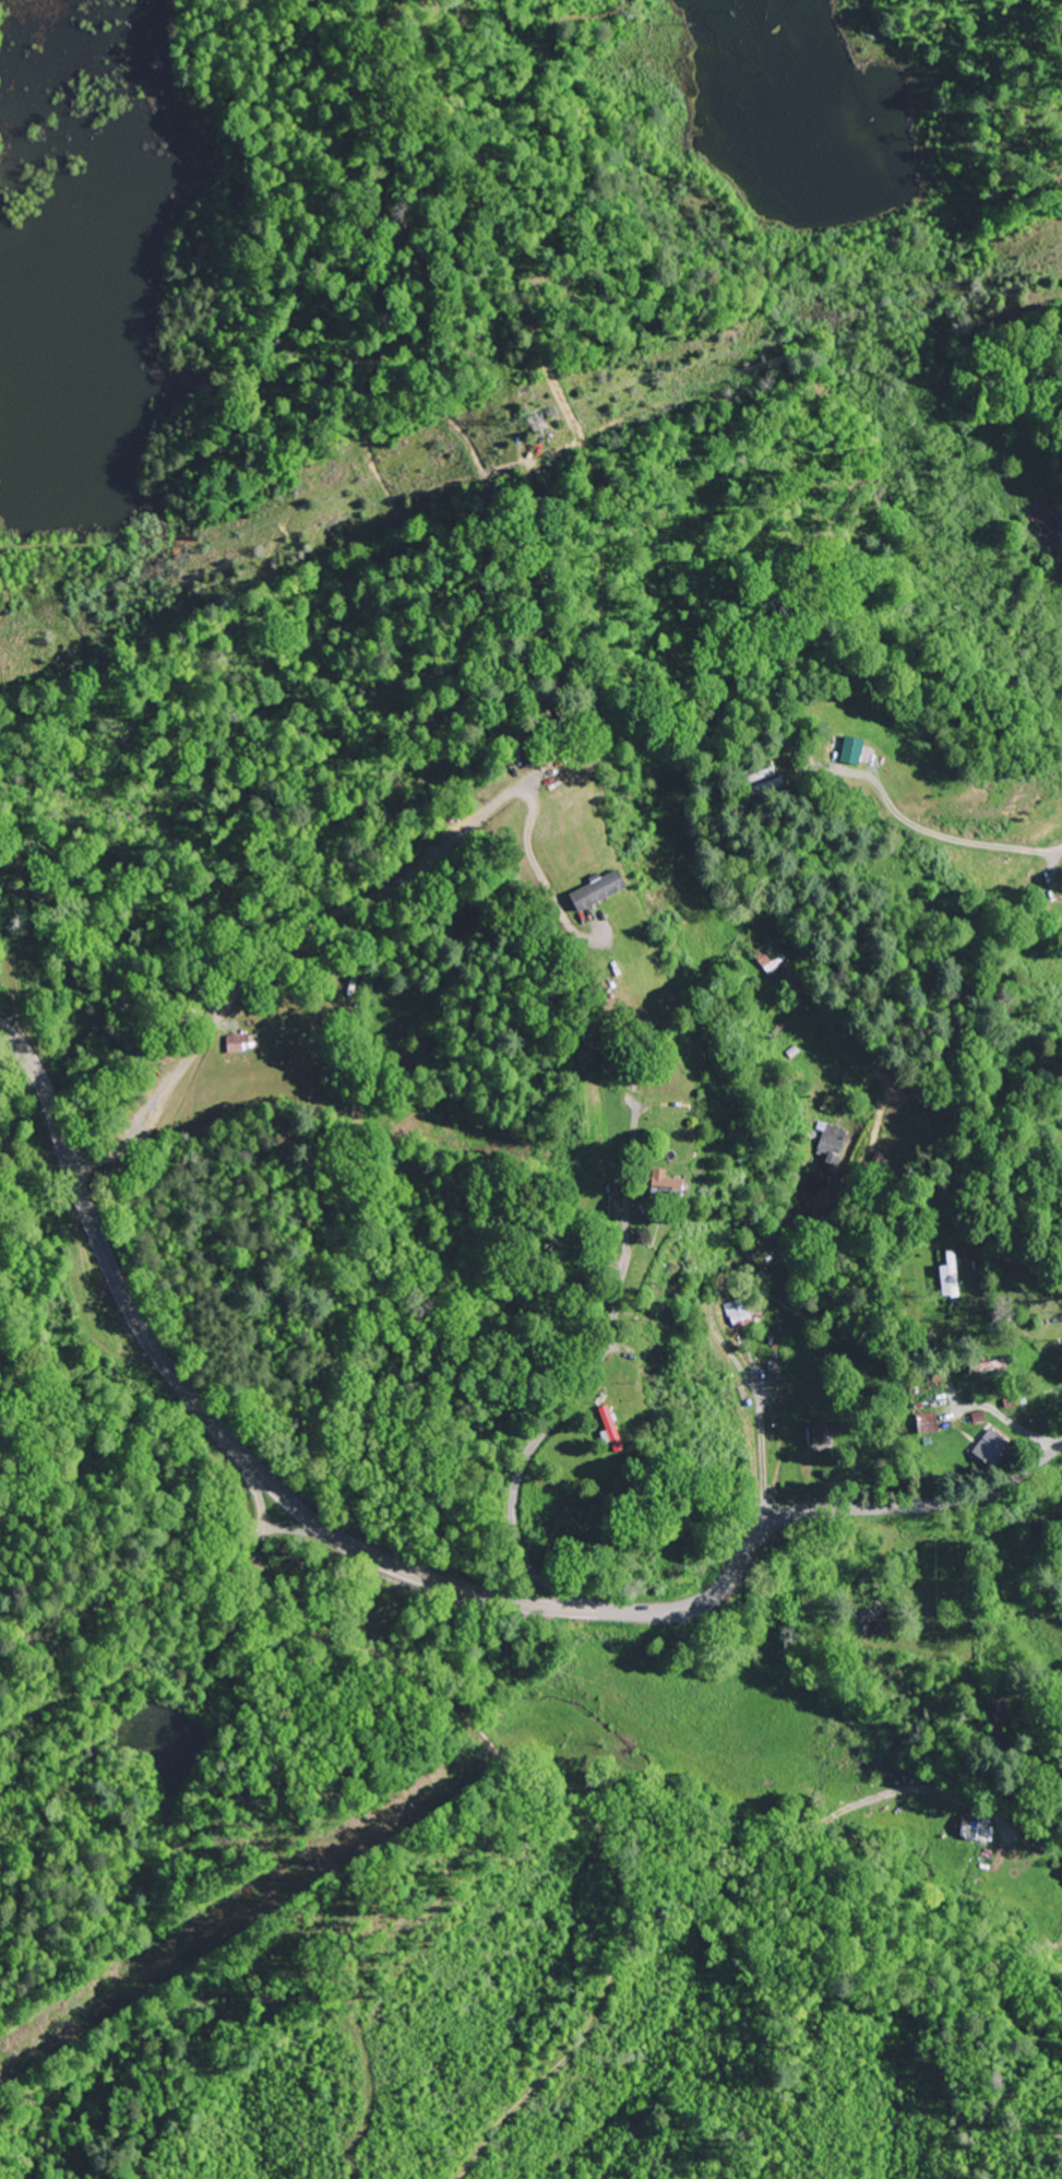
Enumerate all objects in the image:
road: (505, 383)
power tower: (549, 427)
building: (1050, 520)
road: (64, 543)
road: (1040, 562)
road: (19, 600)
building: (856, 749)
road: (958, 840)
building: (605, 889)
road: (289, 943)
building: (240, 1043)
building: (683, 1189)
building: (740, 1312)
road: (720, 1335)
road: (592, 1377)
road: (1004, 1418)
building: (933, 1423)
building: (995, 1443)
road: (416, 1574)
building: (881, 1615)
road: (152, 1665)
road: (565, 1802)
building: (975, 1826)
road: (593, 2016)

